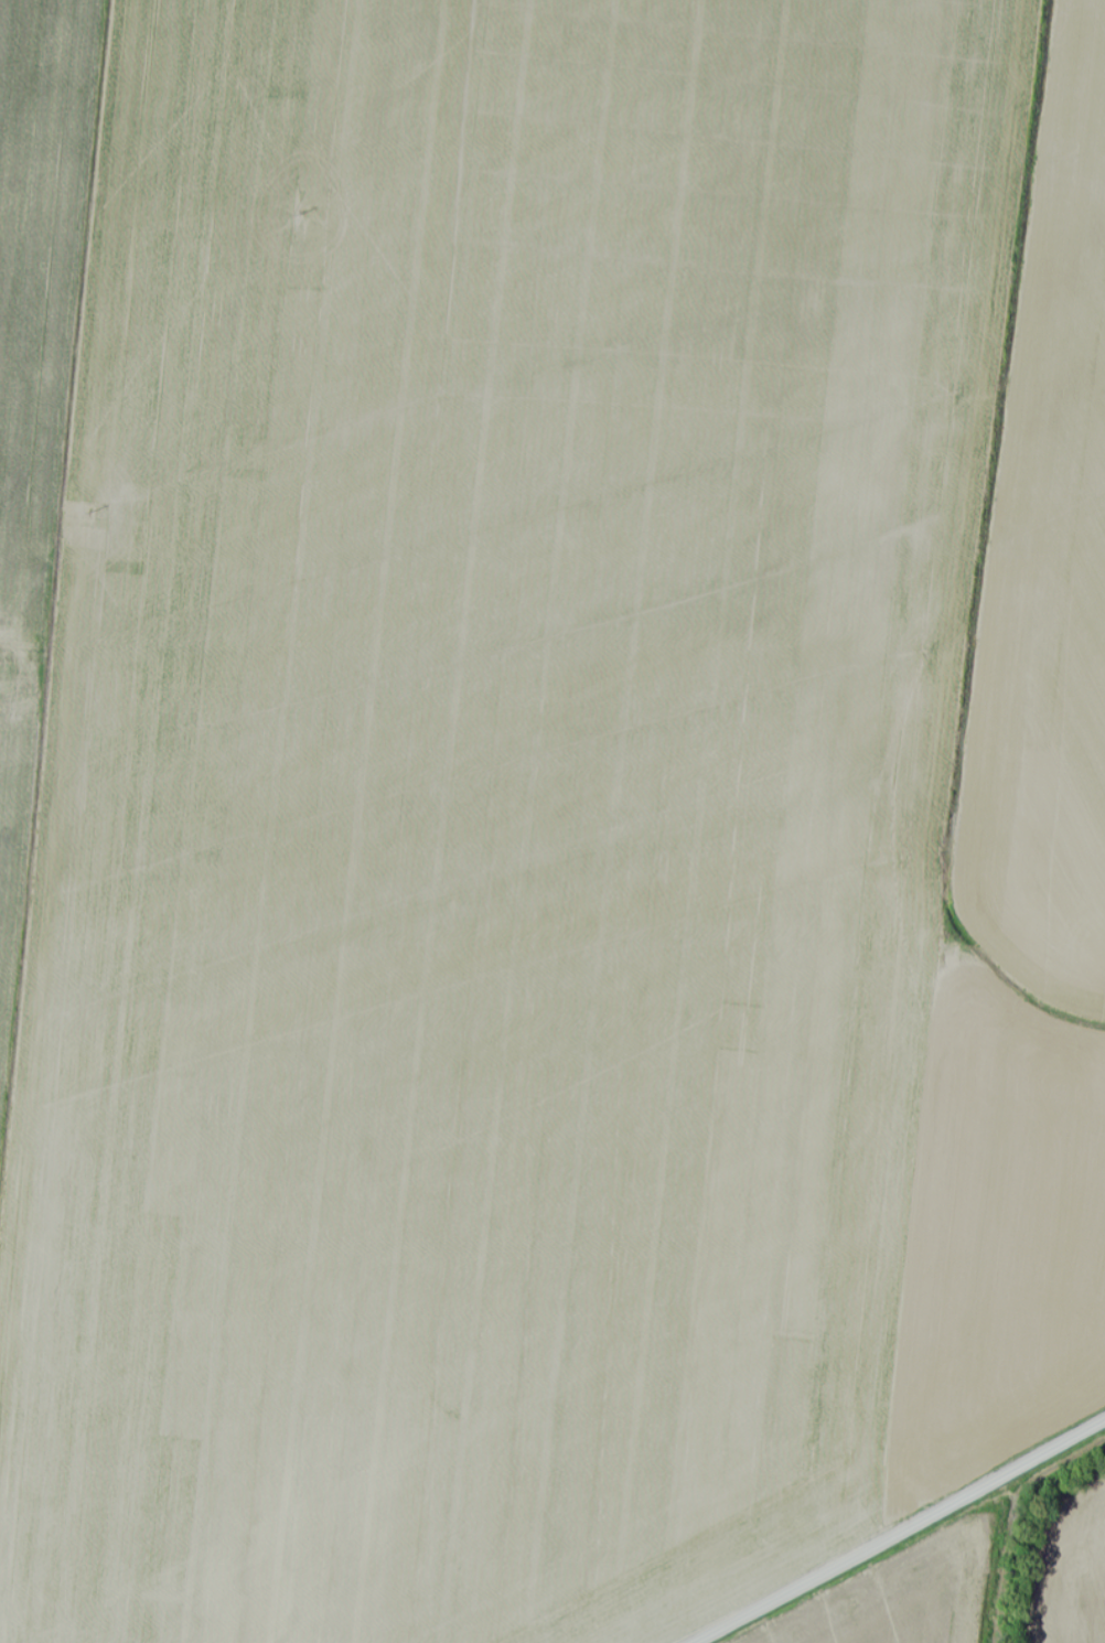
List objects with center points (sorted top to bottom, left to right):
road: (900, 1533)

